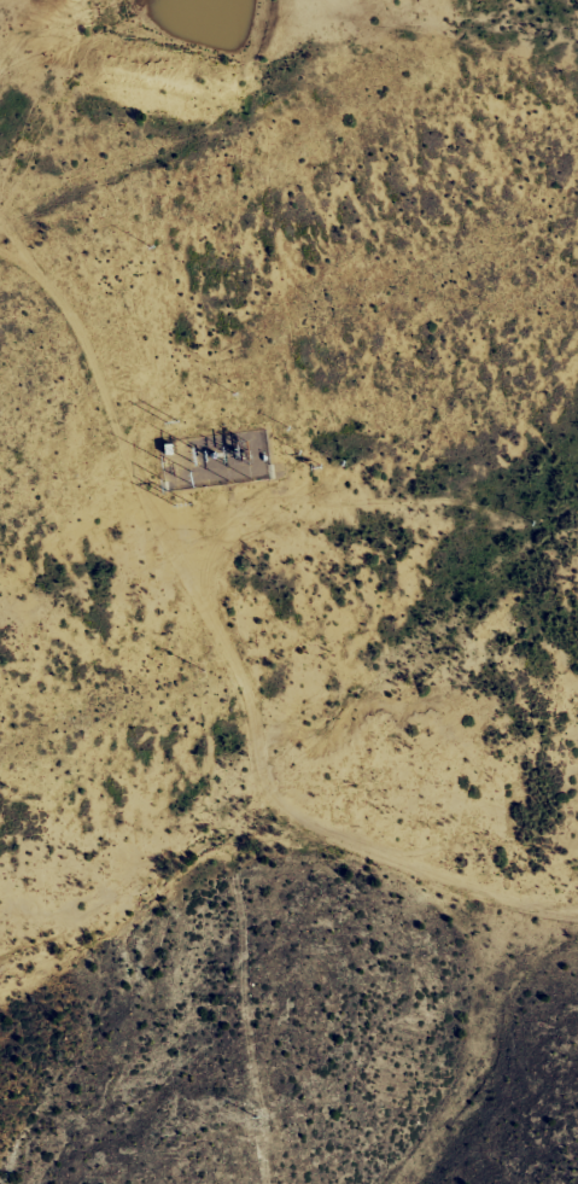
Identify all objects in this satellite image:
road: (241, 138)
power tower: (175, 424)
power tower: (179, 460)
power substation: (216, 460)
power tower: (183, 504)
road: (253, 699)

